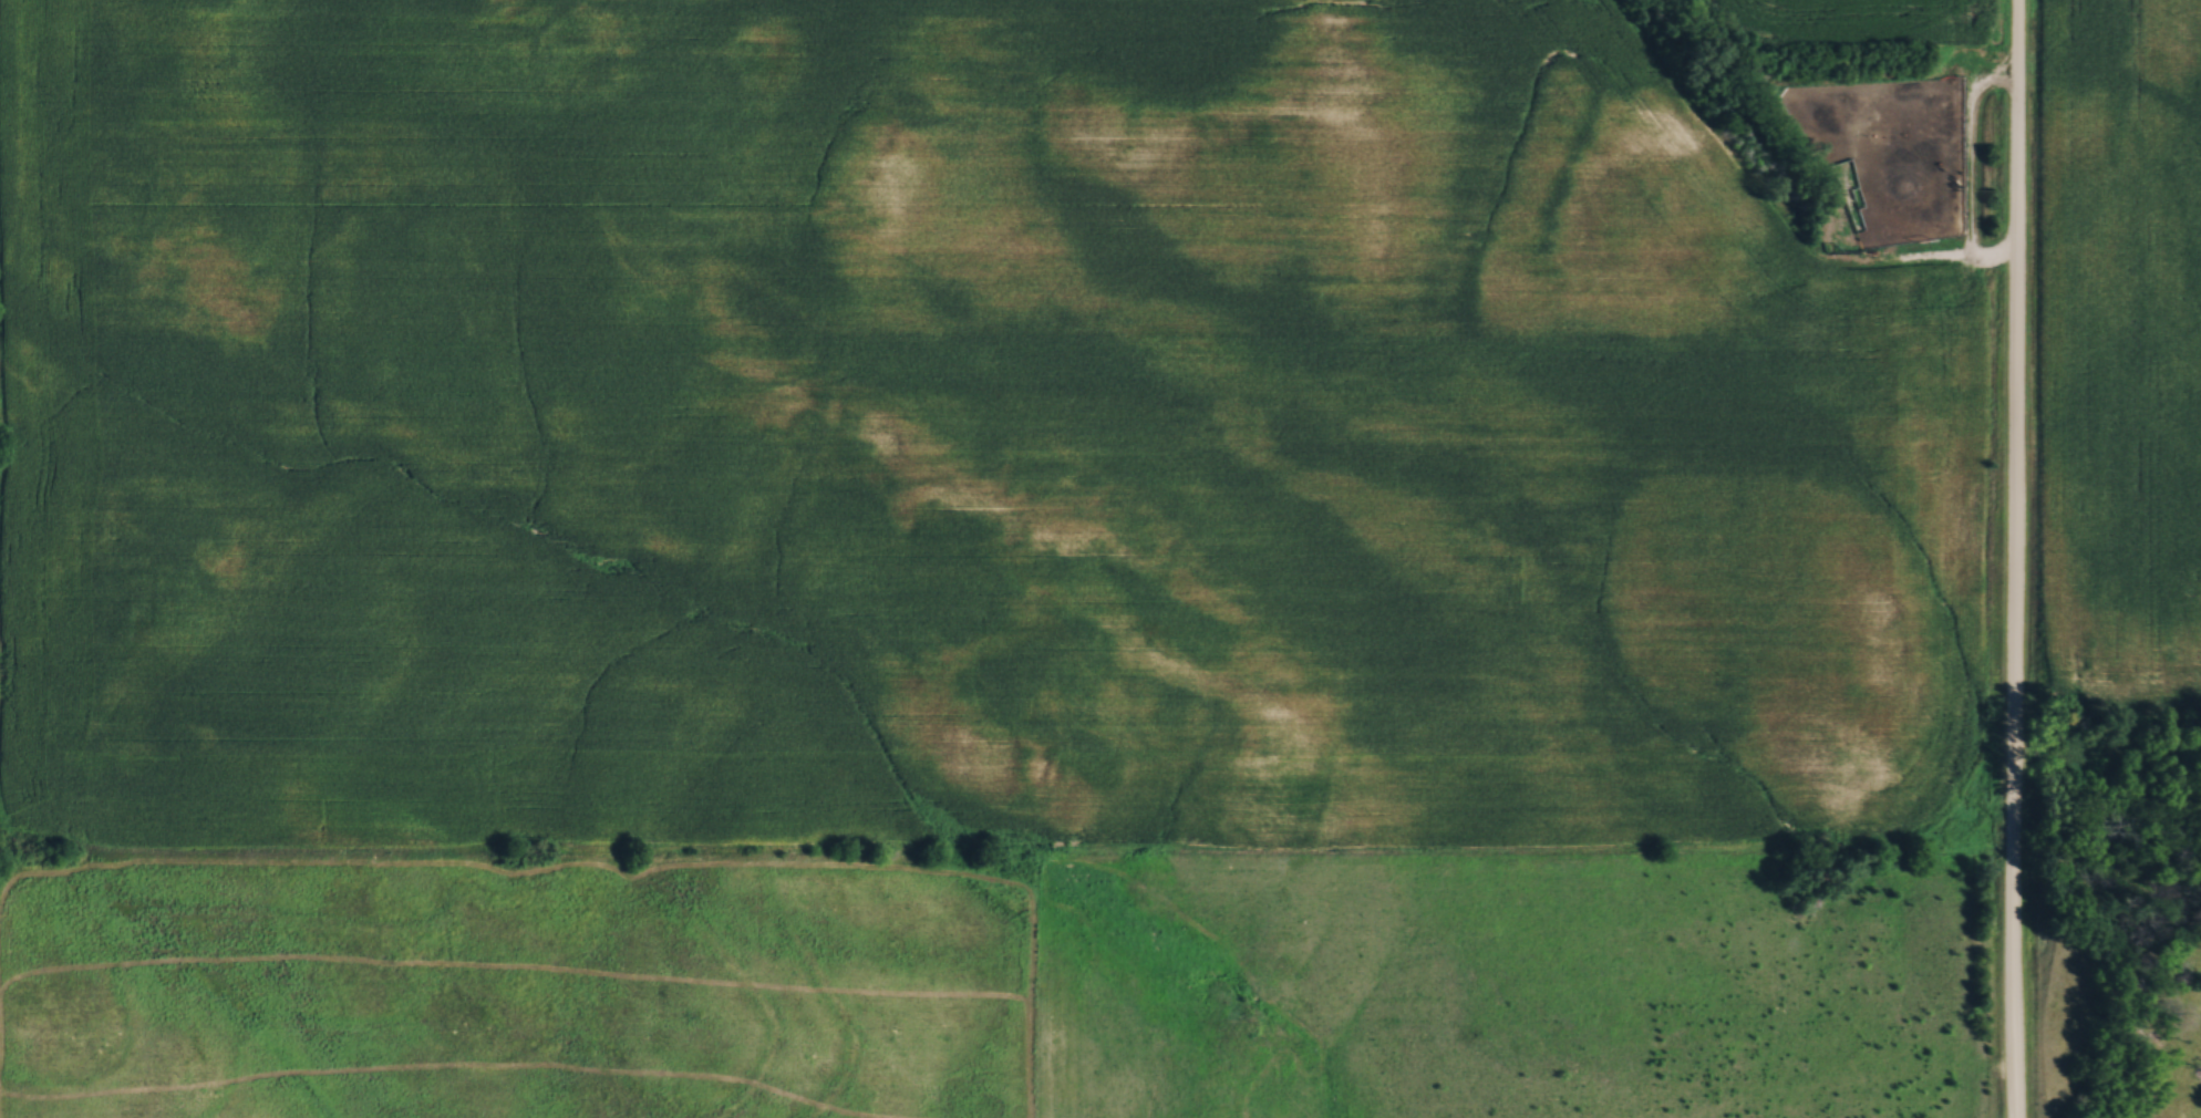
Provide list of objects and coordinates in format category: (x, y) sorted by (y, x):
road: (2016, 559)

